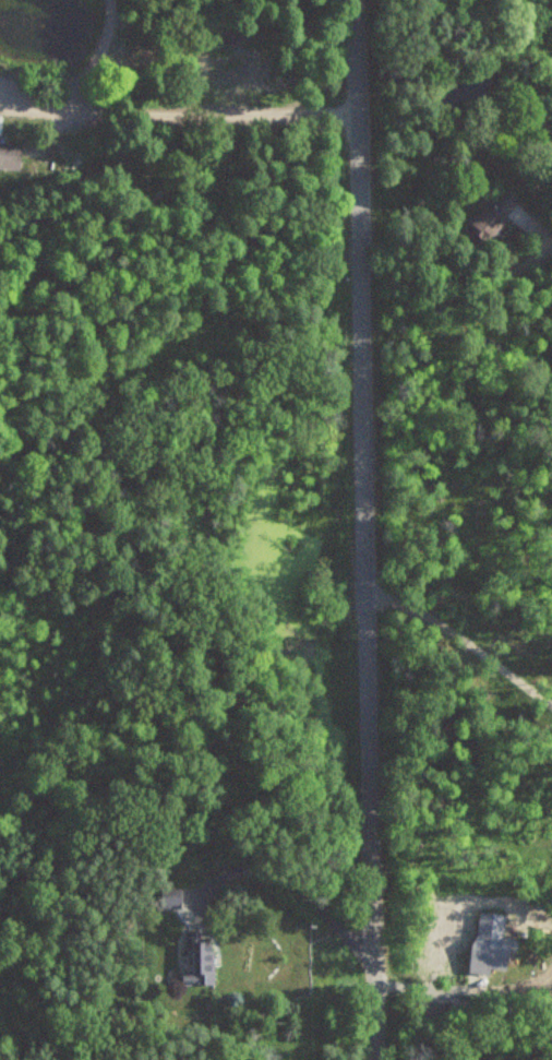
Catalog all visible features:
building: (9, 156)
building: (492, 214)
road: (363, 529)
building: (200, 965)

